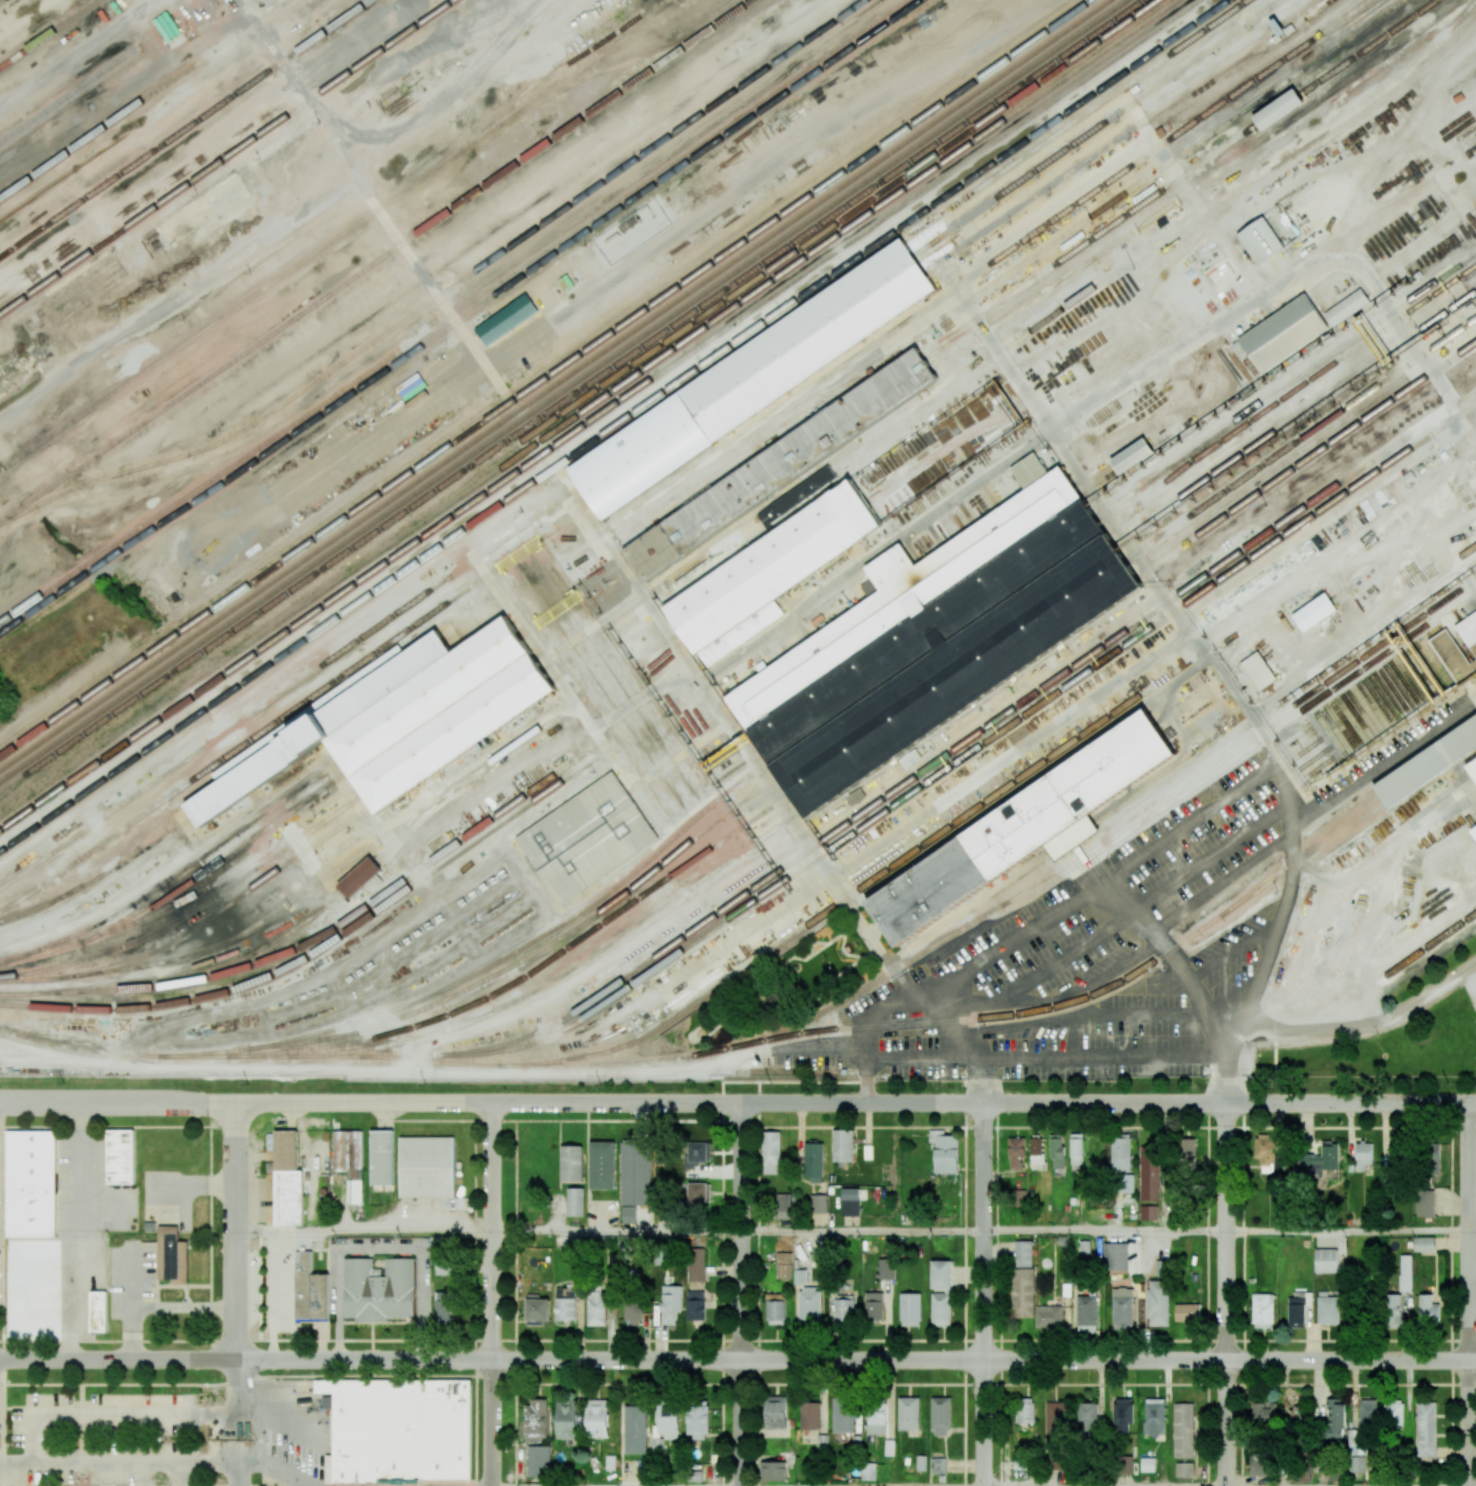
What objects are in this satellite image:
railway: (0, 0)
railway: (424, 16)
railway: (429, 16)
building: (1281, 27)
railway: (48, 33)
railway: (598, 55)
railway: (634, 56)
railway: (1457, 85)
railway: (67, 95)
railway: (143, 99)
railway: (715, 101)
railway: (724, 104)
building: (1282, 110)
railway: (1461, 118)
railway: (1464, 124)
railway: (1098, 125)
railway: (183, 128)
railway: (1466, 132)
railway: (1121, 134)
railway: (1469, 139)
railway: (203, 174)
railway: (1181, 176)
railway: (1247, 180)
railway: (1198, 185)
building: (1263, 241)
railway: (375, 260)
railway: (963, 280)
railway: (258, 289)
railway: (984, 289)
building: (542, 298)
building: (1348, 307)
railway: (451, 312)
railway: (460, 318)
building: (506, 320)
building: (1285, 332)
railway: (1355, 347)
railway: (1311, 367)
railway: (537, 372)
railway: (546, 378)
building: (754, 379)
railway: (554, 383)
railway: (562, 389)
railway: (298, 391)
railway: (571, 395)
railway: (579, 402)
railway: (587, 407)
railway: (599, 415)
railway: (1296, 415)
railway: (613, 425)
railway: (1302, 437)
railway: (777, 455)
railway: (1191, 455)
building: (1138, 456)
railway: (1308, 457)
building: (784, 465)
railway: (787, 470)
building: (1033, 472)
railway: (904, 476)
railway: (1170, 476)
railway: (1123, 497)
building: (799, 499)
railway: (1466, 552)
railway: (775, 565)
building: (890, 571)
building: (772, 574)
railway: (605, 575)
railway: (671, 579)
railway: (1354, 584)
railway: (615, 589)
railway: (1317, 610)
railway: (1151, 612)
railway: (1465, 613)
building: (1317, 614)
railway: (480, 616)
railway: (1459, 617)
railway: (1472, 623)
railway: (1154, 624)
railway: (529, 628)
railway: (1441, 628)
railway: (931, 630)
building: (1469, 630)
railway: (1436, 631)
railway: (1469, 632)
railway: (1430, 635)
railway: (940, 643)
building: (941, 644)
railway: (655, 648)
railway: (543, 649)
railway: (1458, 651)
railway: (1452, 655)
railway: (950, 656)
building: (1453, 658)
railway: (1446, 659)
railway: (1436, 661)
railway: (552, 662)
railway: (1431, 665)
railway: (1425, 668)
building: (1260, 672)
railway: (1420, 672)
railway: (560, 673)
railway: (961, 673)
railway: (1415, 676)
railway: (1410, 679)
railway: (1404, 683)
railway: (1399, 687)
railway: (973, 690)
railway: (1394, 690)
railway: (1388, 694)
railway: (430, 697)
railway: (1383, 697)
railway: (1377, 701)
railway: (1372, 704)
railway: (1367, 708)
railway: (1362, 711)
railway: (441, 712)
railway: (1356, 715)
building: (443, 716)
railway: (243, 719)
railway: (1351, 719)
railway: (1346, 722)
railway: (1341, 726)
railway: (321, 727)
building: (322, 729)
railway: (1335, 729)
railway: (453, 730)
railway: (1330, 733)
railway: (1291, 735)
railway: (526, 736)
railway: (1325, 736)
railway: (250, 740)
railway: (1295, 741)
railway: (461, 742)
railway: (1298, 746)
railway: (1245, 749)
railway: (1302, 751)
railway: (1308, 760)
railway: (1429, 760)
building: (906, 762)
railway: (739, 764)
building: (1431, 767)
road: (1378, 768)
building: (1475, 768)
railway: (1314, 769)
railway: (1432, 771)
railway: (747, 776)
railway: (757, 790)
railway: (769, 806)
road: (1212, 811)
railway: (421, 816)
building: (1474, 830)
building: (1028, 831)
railway: (1110, 831)
building: (588, 840)
railway: (1299, 850)
railway: (132, 856)
railway: (1304, 856)
railway: (222, 859)
building: (906, 867)
railway: (177, 873)
railway: (361, 875)
railway: (92, 876)
building: (361, 876)
road: (1222, 885)
railway: (388, 891)
railway: (183, 899)
railway: (225, 906)
road: (1124, 907)
railway: (32, 908)
railway: (279, 908)
railway: (192, 909)
road: (968, 916)
road: (871, 938)
railway: (333, 941)
railway: (1432, 942)
railway: (45, 950)
railway: (514, 951)
railway: (248, 955)
railway: (518, 961)
railway: (643, 965)
railway: (575, 966)
railway: (646, 973)
railway: (32, 979)
railway: (513, 982)
railway: (68, 990)
road: (1054, 1001)
railway: (684, 1010)
railway: (984, 1017)
road: (1356, 1029)
road: (951, 1046)
railway: (82, 1049)
railway: (218, 1050)
railway: (279, 1054)
railway: (345, 1054)
railway: (206, 1055)
railway: (409, 1055)
road: (907, 1056)
railway: (438, 1061)
railway: (613, 1064)
road: (737, 1102)
building: (843, 1145)
building: (1188, 1149)
building: (1057, 1150)
building: (1076, 1151)
building: (771, 1152)
building: (1266, 1152)
building: (1016, 1153)
building: (1120, 1153)
building: (697, 1154)
building: (1037, 1154)
building: (1363, 1154)
building: (120, 1157)
building: (383, 1157)
building: (1431, 1157)
building: (350, 1161)
building: (1319, 1161)
building: (814, 1162)
building: (571, 1163)
building: (602, 1165)
building: (428, 1167)
building: (635, 1172)
building: (1149, 1173)
building: (31, 1183)
building: (1125, 1183)
building: (699, 1192)
building: (1020, 1194)
building: (289, 1198)
building: (575, 1201)
building: (850, 1202)
building: (1425, 1203)
building: (818, 1204)
building: (783, 1205)
building: (1148, 1212)
building: (628, 1215)
road: (365, 1231)
road: (617, 1231)
road: (863, 1231)
road: (1105, 1231)
road: (1348, 1231)
road: (79, 1232)
road: (1473, 1232)
building: (625, 1244)
building: (1424, 1244)
building: (163, 1248)
building: (1024, 1254)
building: (172, 1256)
building: (1118, 1259)
building: (1326, 1260)
building: (183, 1263)
building: (696, 1264)
building: (783, 1265)
building: (444, 1266)
building: (885, 1268)
building: (1405, 1273)
building: (941, 1276)
building: (800, 1277)
road: (237, 1282)
building: (310, 1289)
building: (379, 1289)
building: (1023, 1292)
road: (493, 1294)
road: (742, 1294)
road: (984, 1294)
road: (997, 1294)
road: (1226, 1294)
road: (1469, 1294)
building: (670, 1303)
building: (1158, 1303)
building: (565, 1304)
building: (696, 1305)
building: (810, 1306)
building: (873, 1306)
building: (444, 1308)
building: (596, 1308)
building: (844, 1308)
building: (911, 1308)
building: (1122, 1308)
building: (1298, 1308)
building: (1427, 1308)
building: (632, 1309)
building: (775, 1309)
building: (1328, 1309)
building: (537, 1310)
building: (942, 1310)
building: (97, 1311)
building: (1263, 1311)
building: (1392, 1311)
building: (1087, 1313)
building: (1189, 1313)
building: (1049, 1316)
road: (738, 1360)
road: (118, 1383)
building: (1024, 1410)
building: (909, 1412)
building: (1264, 1412)
building: (776, 1413)
building: (1393, 1414)
building: (809, 1415)
building: (842, 1415)
building: (1122, 1415)
road: (111, 1416)
building: (941, 1416)
building: (1154, 1416)
building: (597, 1417)
building: (1087, 1417)
building: (1335, 1418)
building: (536, 1420)
building: (567, 1420)
building: (876, 1420)
building: (697, 1421)
building: (668, 1422)
building: (1362, 1423)
building: (1055, 1424)
building: (636, 1427)
building: (400, 1428)
building: (1426, 1428)
building: (1183, 1430)
building: (822, 1441)
building: (857, 1441)
building: (890, 1446)
building: (539, 1459)
road: (154, 1460)
building: (921, 1462)
building: (1022, 1464)
building: (1126, 1464)
building: (1147, 1464)
building: (1258, 1464)
building: (1356, 1464)
building: (938, 1465)
building: (1184, 1469)
building: (868, 1470)
building: (773, 1471)
building: (1305, 1474)
building: (942, 1478)
road: (237, 1483)

